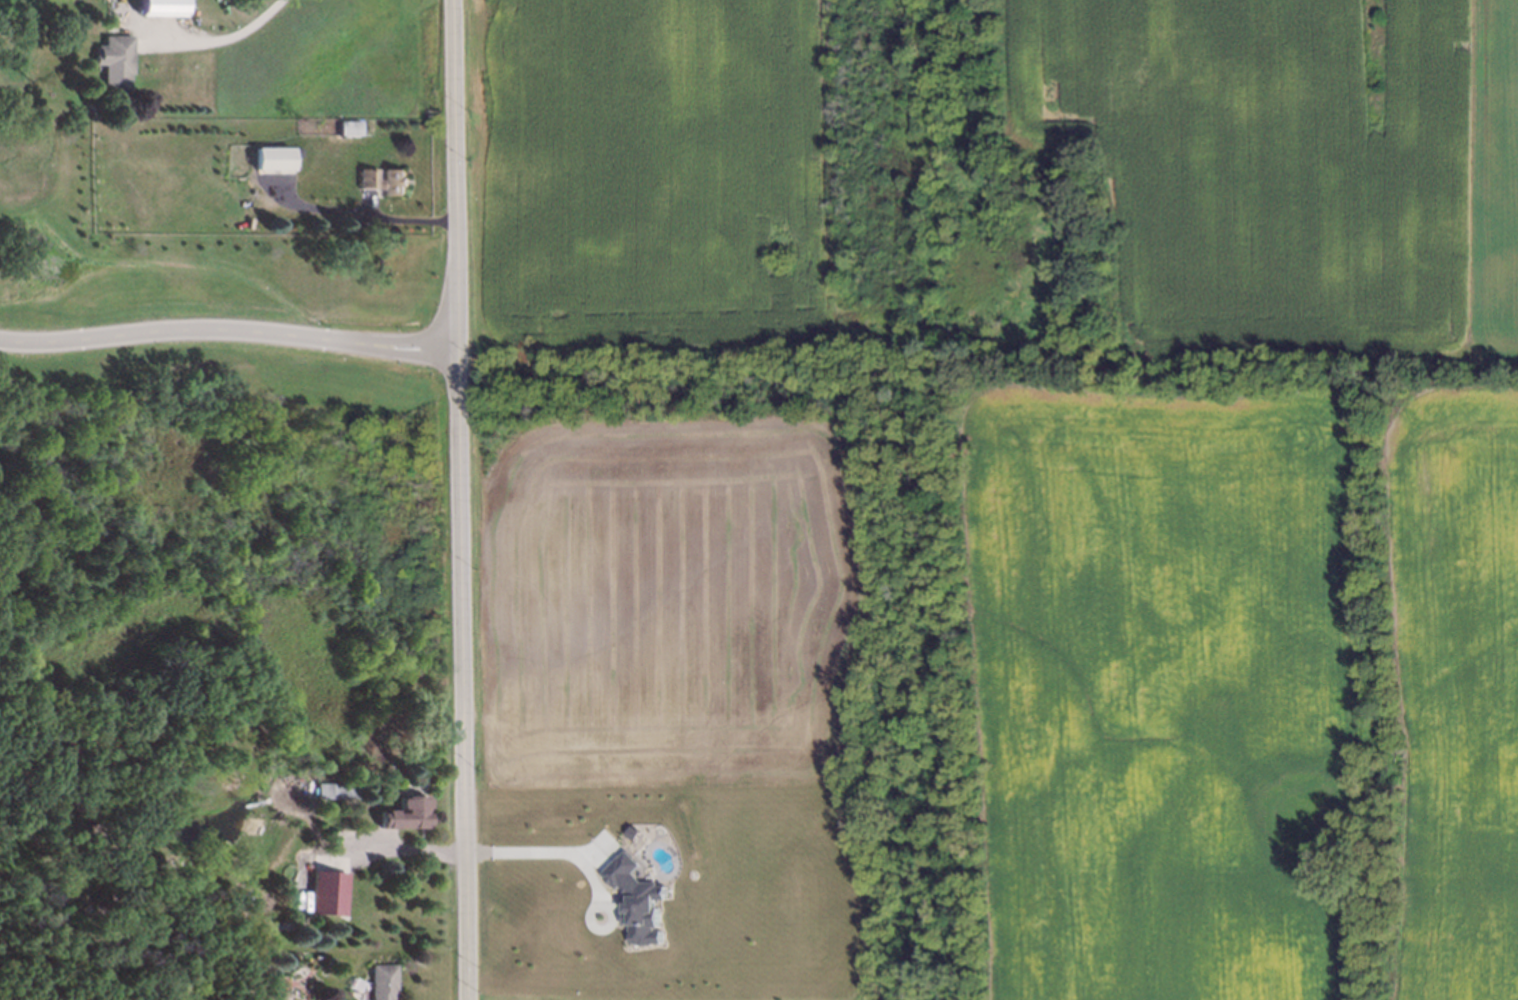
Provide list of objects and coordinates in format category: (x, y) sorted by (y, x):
building: (157, 6)
road: (215, 41)
building: (110, 60)
building: (344, 128)
building: (273, 154)
building: (383, 180)
road: (365, 211)
road: (228, 330)
park: (221, 479)
road: (459, 499)
road: (35, 550)
building: (335, 791)
building: (405, 813)
road: (407, 850)
road: (585, 860)
building: (312, 954)
building: (380, 982)
building: (245, 999)

